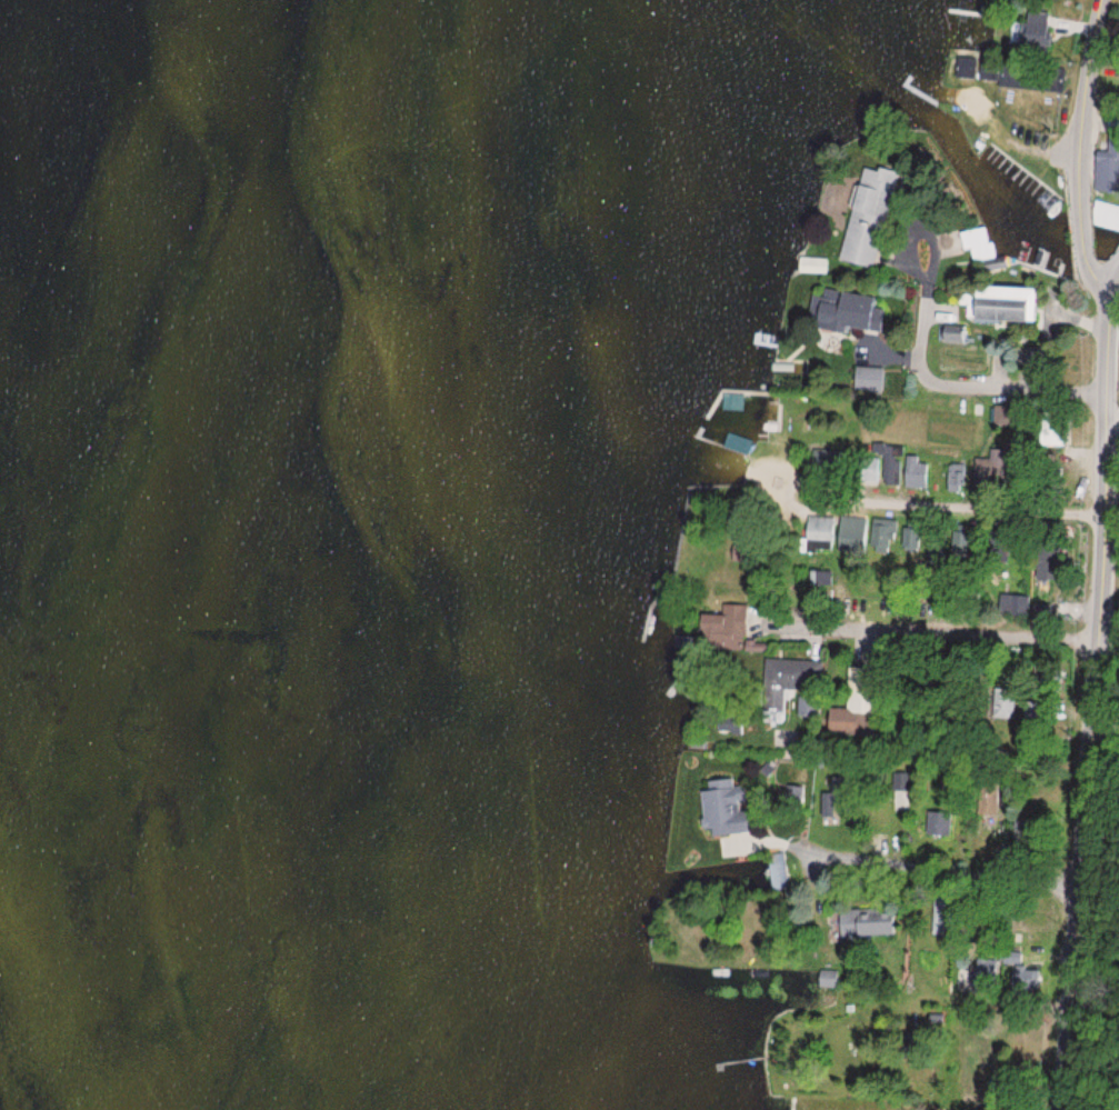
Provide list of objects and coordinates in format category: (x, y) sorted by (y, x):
building: (1033, 28)
road: (1088, 101)
building: (1107, 172)
building: (1106, 216)
building: (863, 227)
road: (921, 230)
building: (977, 243)
road: (1086, 258)
road: (1116, 283)
building: (999, 304)
building: (845, 311)
building: (869, 379)
road: (972, 383)
building: (916, 472)
building: (957, 479)
road: (941, 501)
building: (837, 530)
building: (885, 534)
building: (1015, 606)
building: (1055, 609)
road: (936, 622)
building: (723, 626)
road: (1108, 639)
building: (788, 679)
building: (863, 697)
road: (1090, 706)
road: (1049, 734)
building: (722, 808)
road: (942, 863)
building: (863, 922)
building: (826, 979)
road: (948, 1062)

